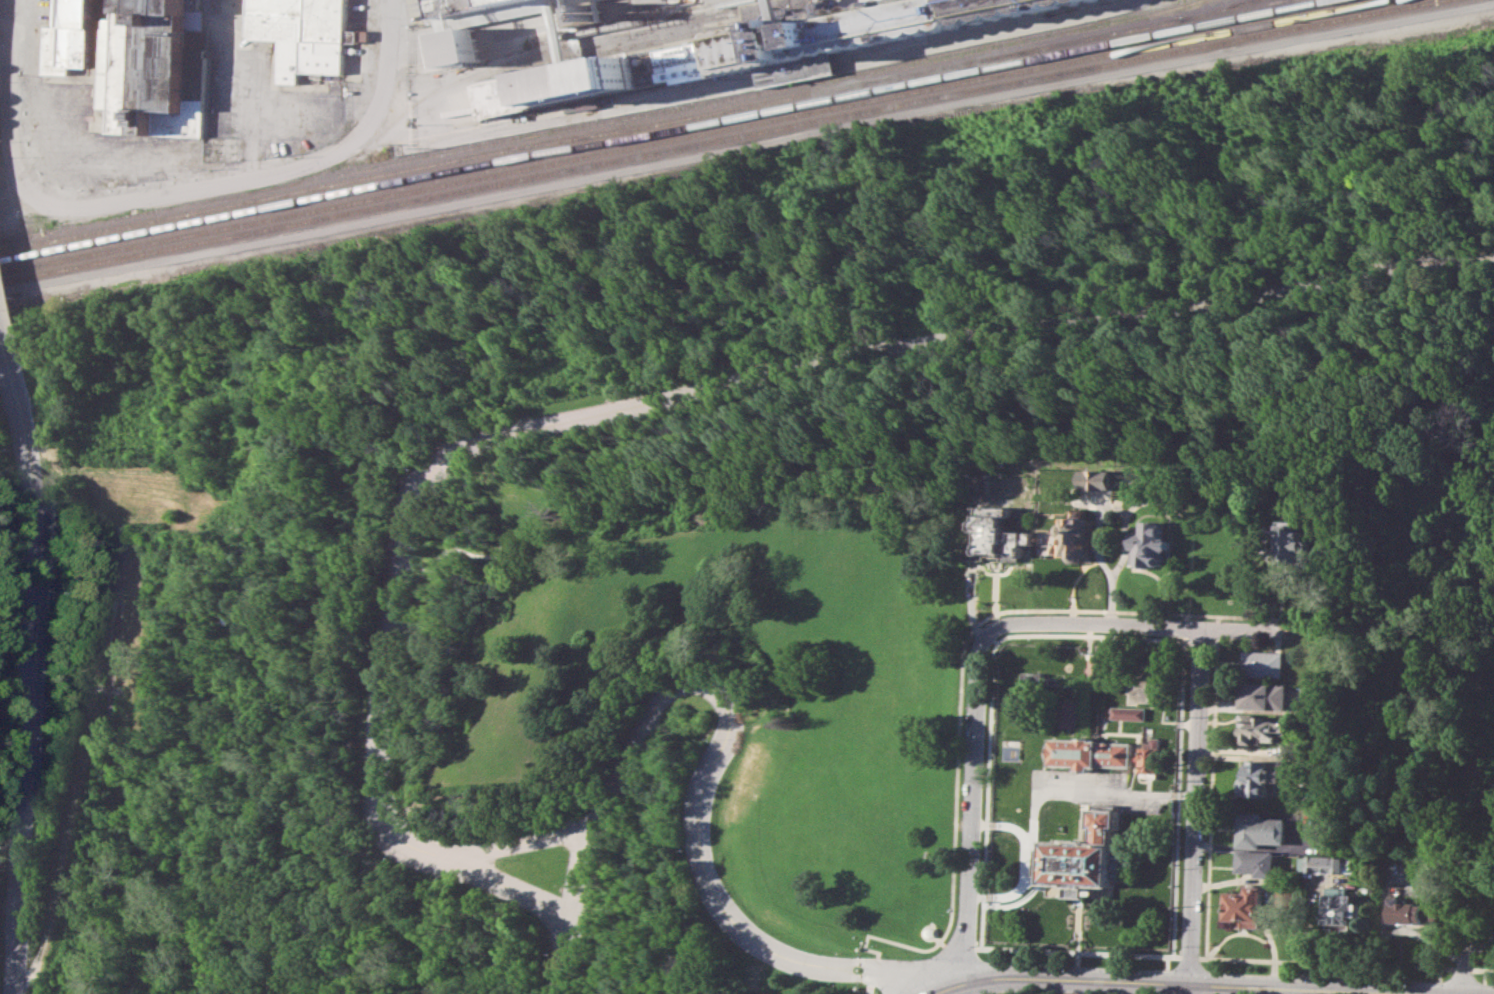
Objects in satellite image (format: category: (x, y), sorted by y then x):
railway: (1216, 9)
railway: (1228, 9)
building: (492, 11)
road: (7, 27)
railway: (635, 31)
railway: (581, 32)
building: (302, 34)
building: (356, 36)
building: (52, 46)
building: (743, 53)
building: (155, 54)
railway: (546, 61)
railway: (923, 76)
road: (250, 121)
railway: (599, 123)
railway: (668, 130)
railway: (590, 135)
railway: (698, 135)
railway: (723, 139)
road: (193, 189)
road: (6, 332)
road: (644, 406)
building: (1096, 479)
building: (980, 483)
building: (1176, 483)
road: (9, 485)
road: (1101, 515)
park: (694, 529)
building: (1001, 532)
building: (1080, 535)
building: (1294, 542)
building: (1154, 544)
road: (1076, 583)
flagpole: (1232, 600)
road: (1094, 622)
road: (1243, 628)
road: (991, 639)
road: (1090, 647)
building: (1264, 663)
road: (28, 678)
road: (991, 682)
road: (8, 694)
building: (1265, 695)
road: (960, 698)
road: (724, 704)
building: (1130, 712)
building: (1071, 713)
building: (1263, 727)
building: (1092, 752)
building: (1151, 755)
building: (1262, 777)
road: (1180, 784)
road: (1213, 785)
parking lot: (1099, 789)
road: (1043, 796)
road: (1196, 805)
road: (970, 812)
road: (1003, 824)
building: (1261, 829)
road: (1, 837)
road: (520, 846)
building: (1088, 856)
building: (1259, 862)
building: (1321, 864)
road: (1271, 897)
building: (1246, 907)
building: (1342, 910)
building: (1410, 910)
road: (1079, 926)
road: (1439, 944)
road: (1475, 947)
road: (1059, 950)
road: (990, 955)
road: (1189, 955)
road: (861, 961)
road: (1167, 961)
road: (1345, 963)
road: (1077, 964)
road: (1211, 964)
road: (859, 976)
road: (989, 976)
road: (1166, 980)
road: (923, 982)
road: (1182, 982)
road: (1211, 982)
road: (1188, 988)
road: (988, 992)
road: (1409, 993)

